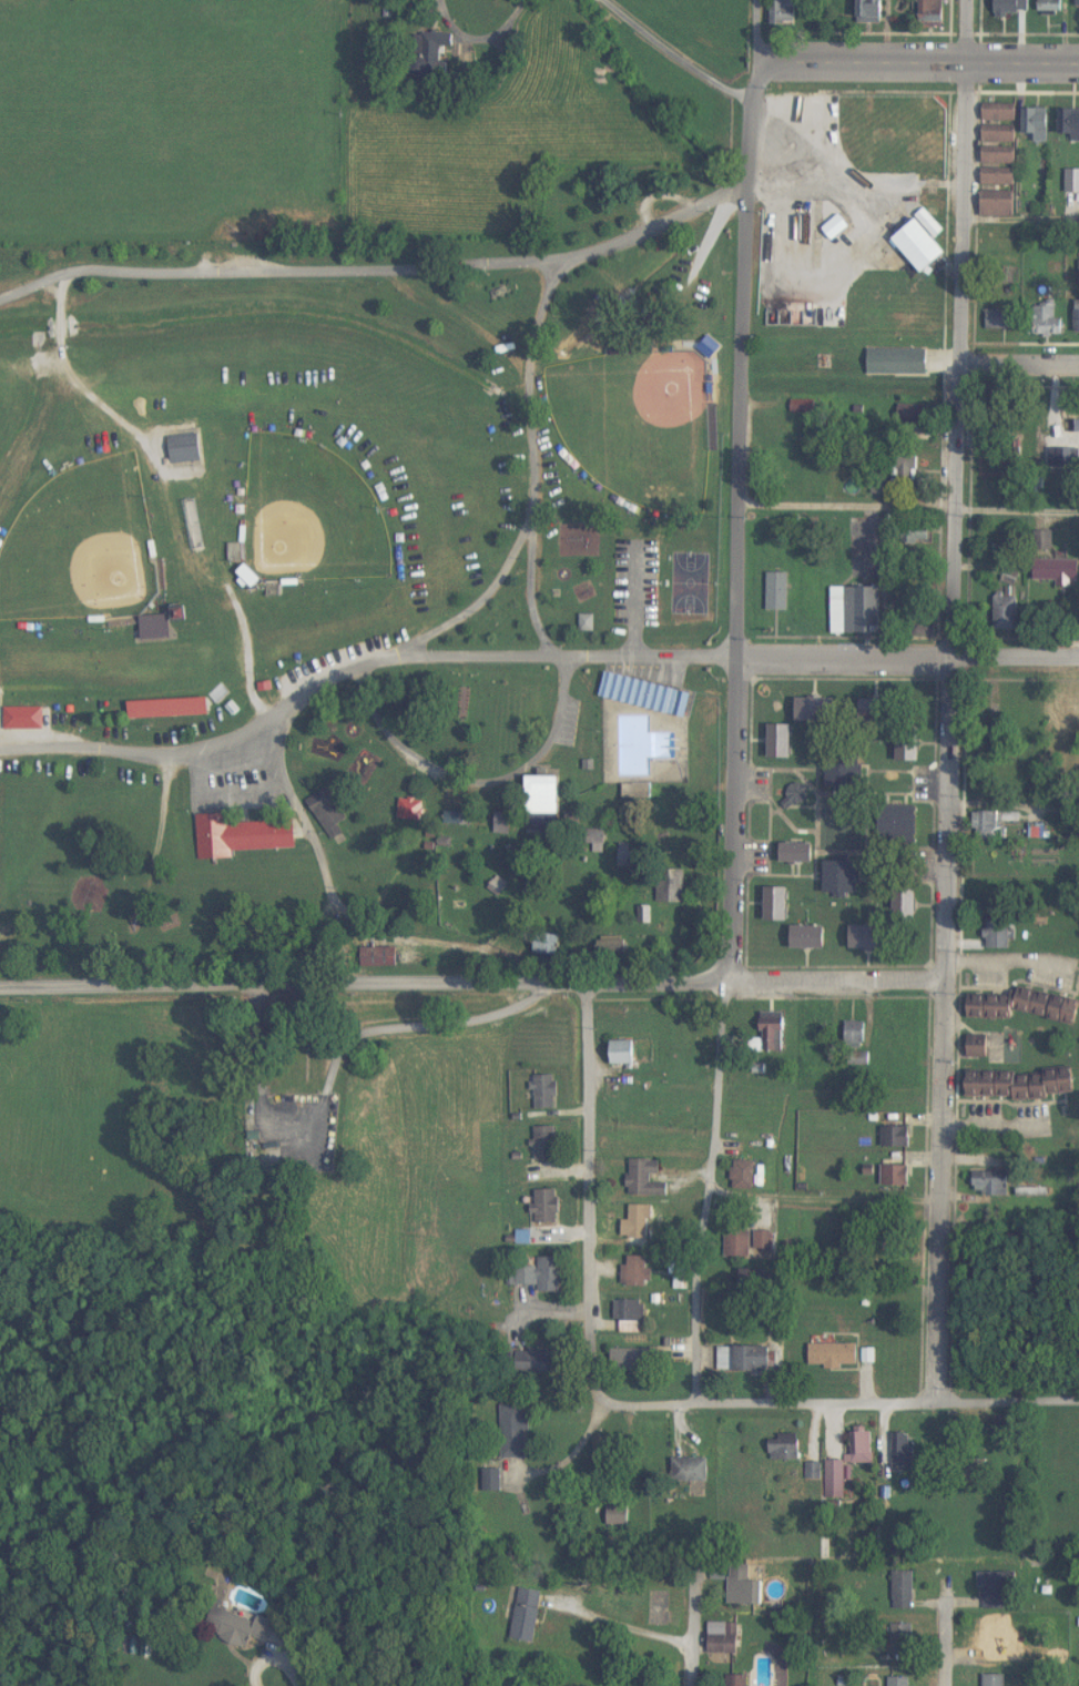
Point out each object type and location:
building: (1078, 6)
building: (1051, 7)
building: (1011, 8)
building: (874, 12)
building: (934, 12)
building: (784, 14)
road: (671, 17)
road: (754, 30)
road: (969, 31)
road: (681, 34)
building: (436, 50)
road: (916, 61)
building: (999, 113)
building: (1038, 124)
building: (1070, 124)
building: (1000, 134)
building: (999, 155)
building: (999, 177)
building: (1073, 182)
road: (826, 183)
building: (998, 209)
road: (1022, 216)
building: (922, 246)
building: (1078, 272)
road: (377, 273)
building: (1077, 314)
building: (1001, 319)
building: (1047, 322)
road: (1020, 363)
building: (1069, 423)
building: (778, 434)
building: (185, 447)
building: (905, 470)
road: (907, 507)
road: (735, 520)
building: (916, 532)
road: (531, 551)
building: (1057, 570)
building: (251, 576)
building: (1010, 577)
building: (777, 590)
road: (467, 600)
building: (857, 609)
building: (1007, 611)
building: (156, 626)
road: (906, 660)
road: (346, 661)
building: (647, 693)
building: (1062, 709)
building: (879, 711)
building: (821, 714)
building: (24, 718)
road: (947, 731)
building: (782, 741)
building: (910, 744)
building: (543, 794)
building: (796, 796)
building: (333, 817)
building: (998, 823)
building: (898, 824)
building: (241, 835)
road: (313, 850)
building: (798, 853)
building: (844, 876)
building: (672, 885)
building: (987, 898)
building: (778, 904)
building: (906, 904)
building: (997, 933)
building: (810, 937)
building: (871, 937)
building: (380, 956)
road: (1001, 962)
road: (685, 981)
road: (215, 989)
building: (1024, 1007)
building: (772, 1032)
building: (856, 1035)
building: (624, 1052)
building: (978, 1052)
road: (333, 1057)
building: (1020, 1085)
building: (546, 1091)
building: (897, 1137)
building: (548, 1144)
building: (744, 1176)
building: (897, 1176)
building: (647, 1179)
building: (991, 1184)
road: (710, 1191)
road: (824, 1198)
building: (548, 1207)
road: (588, 1218)
building: (642, 1229)
building: (764, 1241)
building: (739, 1243)
building: (637, 1271)
building: (543, 1276)
building: (632, 1317)
building: (834, 1355)
building: (632, 1360)
building: (744, 1360)
building: (533, 1363)
road: (865, 1401)
building: (513, 1432)
building: (785, 1449)
building: (904, 1451)
building: (848, 1463)
building: (690, 1471)
building: (814, 1472)
building: (491, 1481)
building: (617, 1514)
building: (743, 1586)
building: (903, 1589)
building: (995, 1593)
building: (528, 1616)
road: (619, 1625)
building: (234, 1627)
road: (690, 1632)
road: (937, 1632)
building: (725, 1638)
building: (903, 1642)
building: (999, 1643)
road: (272, 1656)
building: (737, 1680)
building: (995, 1680)
building: (902, 1682)

